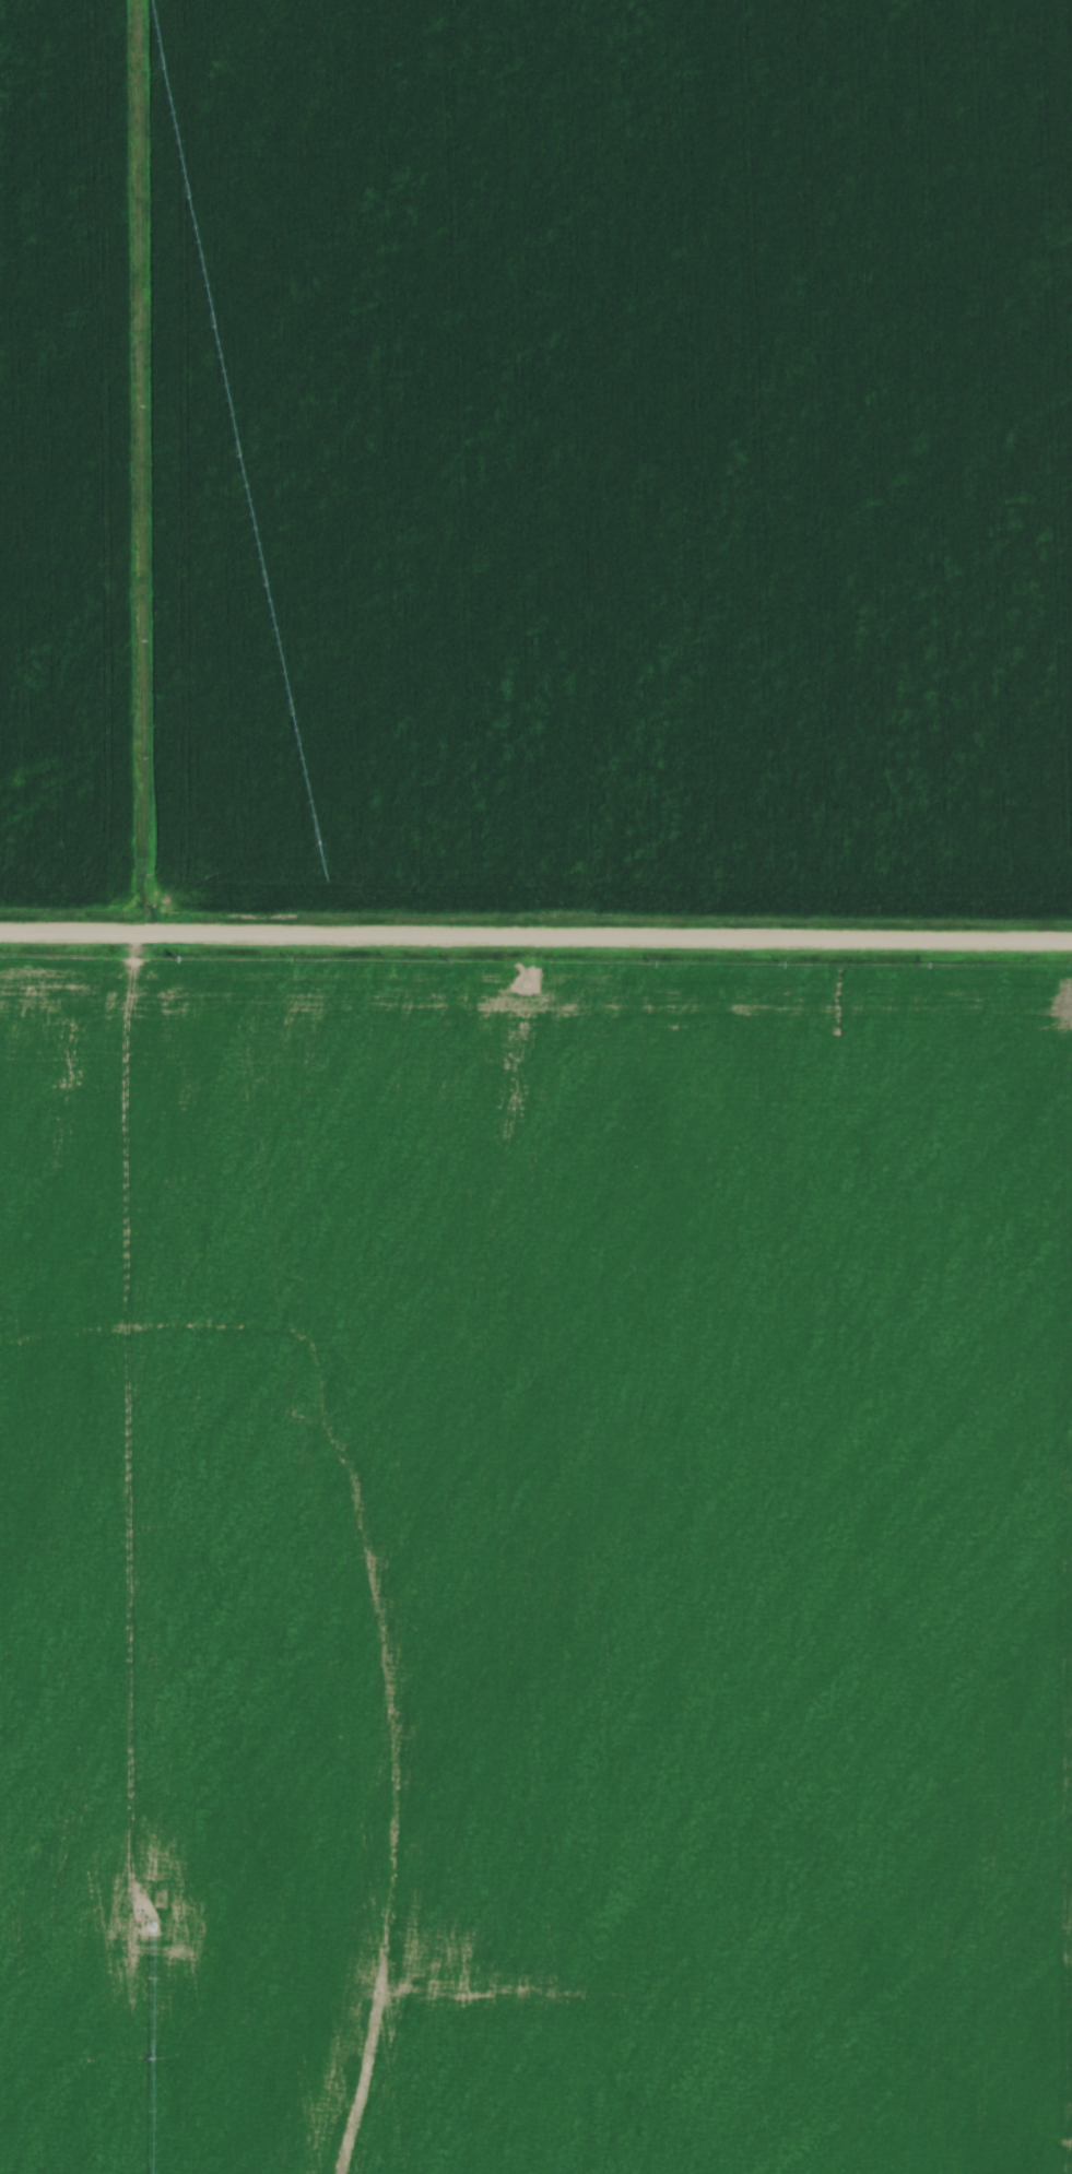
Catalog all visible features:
road: (535, 941)

